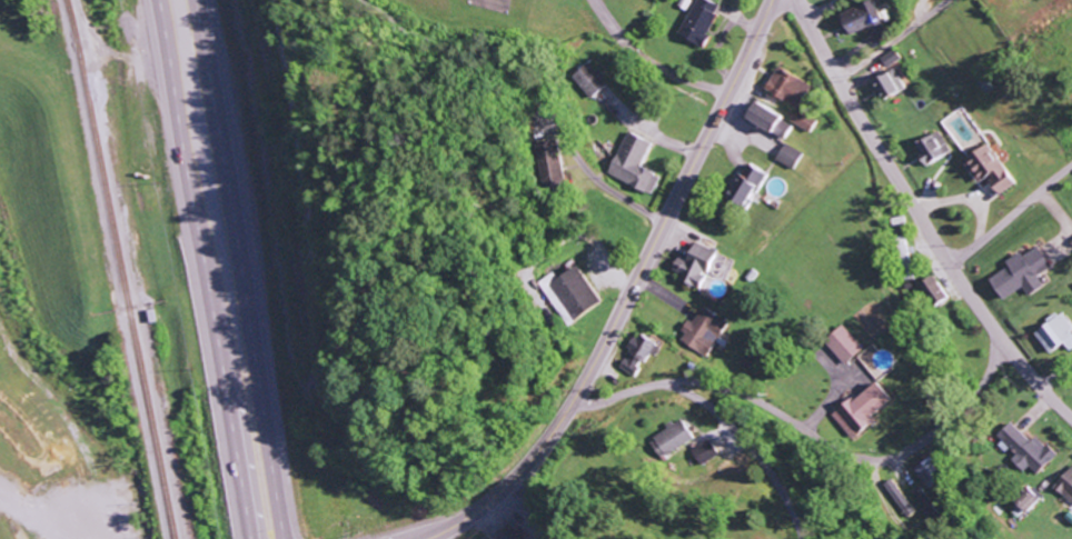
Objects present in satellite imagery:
road: (820, 9)
building: (857, 17)
building: (698, 21)
building: (887, 58)
building: (587, 79)
building: (884, 83)
building: (785, 87)
building: (760, 117)
building: (802, 119)
building: (929, 147)
building: (787, 156)
building: (631, 163)
building: (544, 164)
building: (984, 169)
building: (744, 187)
road: (1011, 217)
road: (920, 219)
building: (903, 257)
building: (692, 266)
railway: (122, 269)
road: (199, 269)
road: (240, 269)
building: (1019, 273)
building: (930, 290)
building: (566, 293)
road: (625, 296)
building: (702, 331)
building: (1053, 333)
building: (842, 345)
building: (636, 355)
road: (1056, 377)
road: (716, 409)
building: (858, 410)
building: (671, 439)
building: (1025, 449)
building: (704, 452)
road: (852, 458)
building: (930, 472)
building: (1064, 486)
building: (897, 498)
building: (1026, 500)
park: (6, 532)
building: (506, 533)

